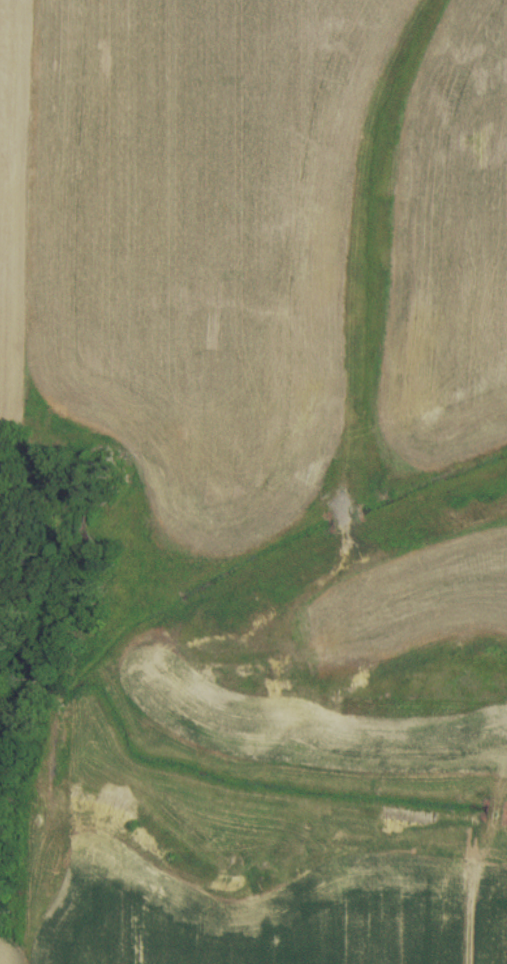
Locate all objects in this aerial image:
road: (487, 919)

